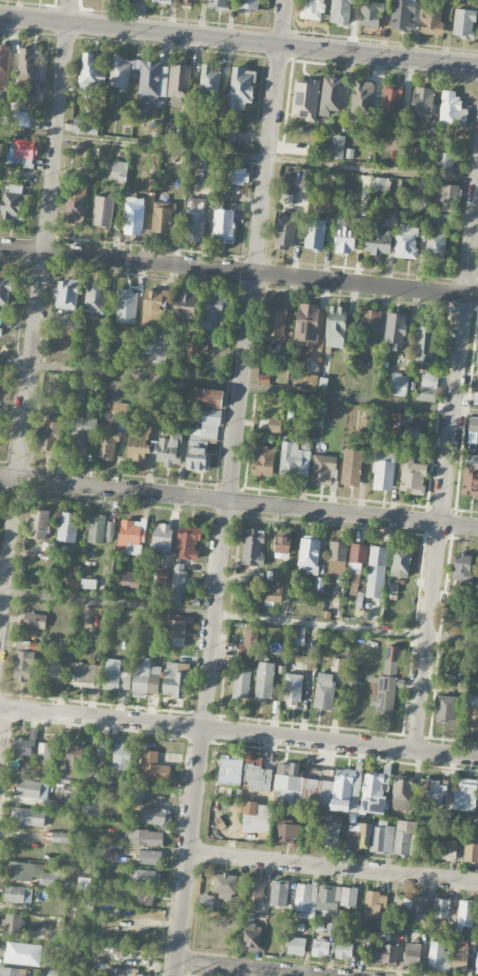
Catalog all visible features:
building: (131, 0)
building: (161, 1)
building: (191, 2)
building: (220, 4)
building: (249, 6)
building: (314, 9)
building: (341, 11)
building: (371, 13)
building: (403, 15)
building: (432, 22)
building: (464, 23)
road: (239, 39)
building: (28, 64)
building: (4, 65)
building: (91, 73)
building: (141, 76)
building: (210, 78)
building: (179, 84)
building: (26, 86)
building: (241, 87)
building: (331, 96)
building: (362, 97)
building: (391, 98)
building: (305, 99)
building: (422, 102)
building: (452, 107)
building: (20, 118)
building: (83, 126)
building: (230, 133)
building: (337, 146)
building: (21, 151)
road: (239, 156)
building: (444, 162)
building: (200, 163)
building: (119, 167)
building: (238, 175)
building: (285, 181)
building: (378, 184)
building: (424, 188)
building: (448, 196)
building: (329, 200)
building: (11, 202)
building: (74, 203)
building: (102, 211)
building: (133, 215)
building: (162, 217)
building: (195, 218)
building: (383, 220)
building: (223, 224)
building: (285, 232)
building: (315, 234)
building: (348, 237)
building: (378, 241)
building: (406, 241)
building: (436, 243)
road: (239, 271)
building: (5, 289)
building: (65, 294)
building: (95, 296)
building: (185, 304)
building: (126, 306)
building: (151, 307)
building: (213, 311)
road: (36, 320)
building: (276, 320)
building: (71, 322)
building: (306, 324)
building: (370, 324)
building: (336, 327)
building: (395, 331)
building: (426, 344)
building: (156, 347)
building: (192, 352)
building: (477, 357)
building: (306, 380)
building: (399, 384)
building: (428, 385)
road: (239, 386)
building: (475, 398)
building: (0, 401)
building: (120, 411)
building: (396, 423)
building: (274, 425)
building: (205, 426)
building: (49, 434)
building: (82, 434)
building: (138, 442)
building: (107, 443)
building: (169, 448)
building: (295, 458)
building: (263, 461)
building: (351, 466)
building: (324, 469)
building: (383, 470)
building: (470, 474)
road: (446, 475)
building: (413, 476)
road: (231, 488)
road: (238, 501)
building: (39, 523)
building: (68, 526)
building: (96, 529)
building: (109, 530)
building: (130, 533)
building: (161, 536)
building: (188, 542)
building: (282, 543)
building: (253, 547)
building: (309, 555)
building: (337, 557)
building: (401, 563)
building: (463, 567)
building: (376, 571)
building: (356, 574)
building: (163, 578)
building: (130, 580)
building: (177, 582)
building: (88, 583)
building: (72, 585)
building: (275, 592)
road: (238, 617)
building: (33, 620)
building: (177, 627)
building: (298, 635)
building: (64, 644)
building: (27, 645)
building: (245, 661)
building: (338, 664)
building: (24, 665)
building: (53, 673)
building: (86, 675)
building: (115, 675)
building: (145, 678)
building: (175, 679)
building: (264, 681)
building: (386, 683)
building: (292, 689)
building: (324, 690)
building: (446, 708)
building: (474, 710)
road: (1, 720)
road: (239, 731)
building: (23, 746)
building: (48, 751)
building: (121, 758)
building: (73, 761)
building: (153, 767)
building: (230, 768)
building: (256, 774)
building: (332, 788)
building: (434, 788)
building: (32, 789)
building: (136, 792)
building: (401, 792)
building: (465, 792)
building: (91, 807)
building: (154, 815)
building: (28, 816)
building: (263, 818)
building: (288, 831)
building: (363, 836)
building: (57, 837)
building: (146, 837)
building: (448, 850)
building: (471, 853)
building: (150, 857)
road: (334, 867)
building: (31, 873)
building: (144, 877)
building: (84, 883)
building: (224, 885)
building: (256, 891)
building: (279, 892)
building: (17, 894)
building: (145, 896)
building: (335, 897)
building: (303, 898)
building: (205, 900)
building: (373, 904)
building: (416, 905)
building: (441, 908)
building: (466, 912)
building: (12, 922)
building: (330, 929)
building: (251, 937)
building: (297, 945)
building: (322, 948)
building: (343, 949)
building: (22, 953)
building: (386, 953)
building: (412, 954)
building: (438, 956)
building: (460, 957)
building: (477, 963)
road: (246, 969)
building: (11, 971)
building: (124, 972)
building: (52, 973)

